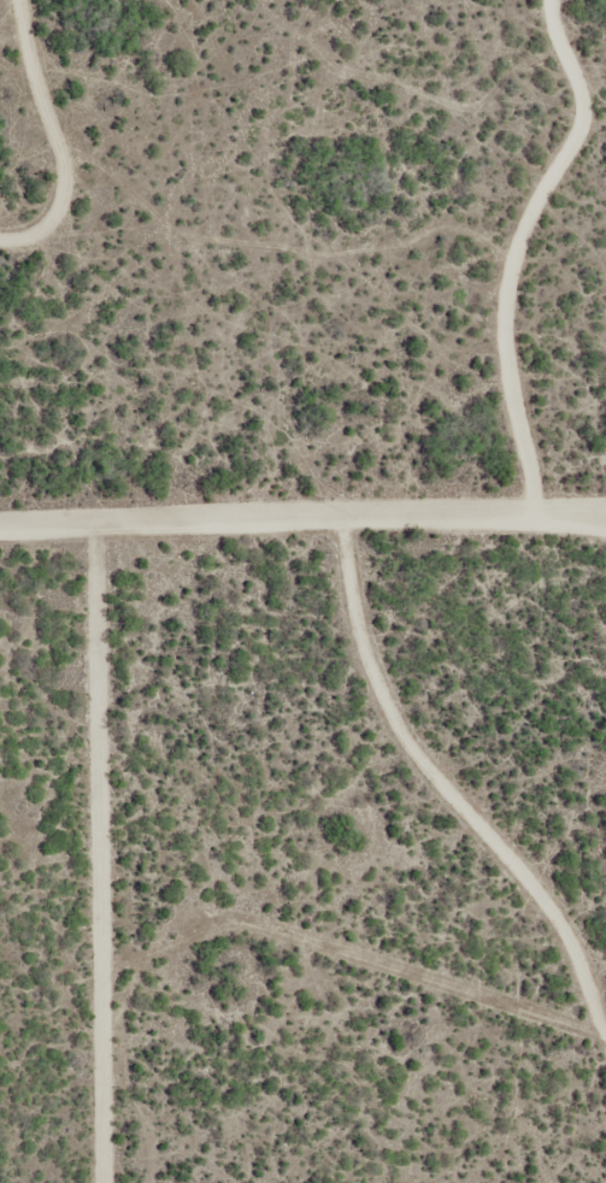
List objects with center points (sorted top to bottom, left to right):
road: (292, 743)

